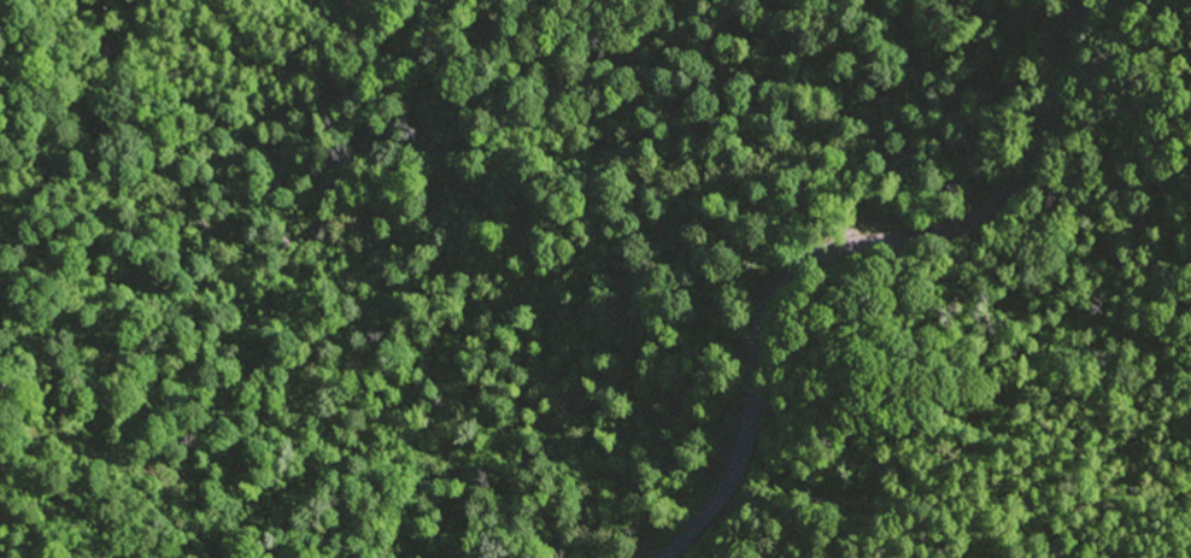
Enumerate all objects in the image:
road: (843, 247)

